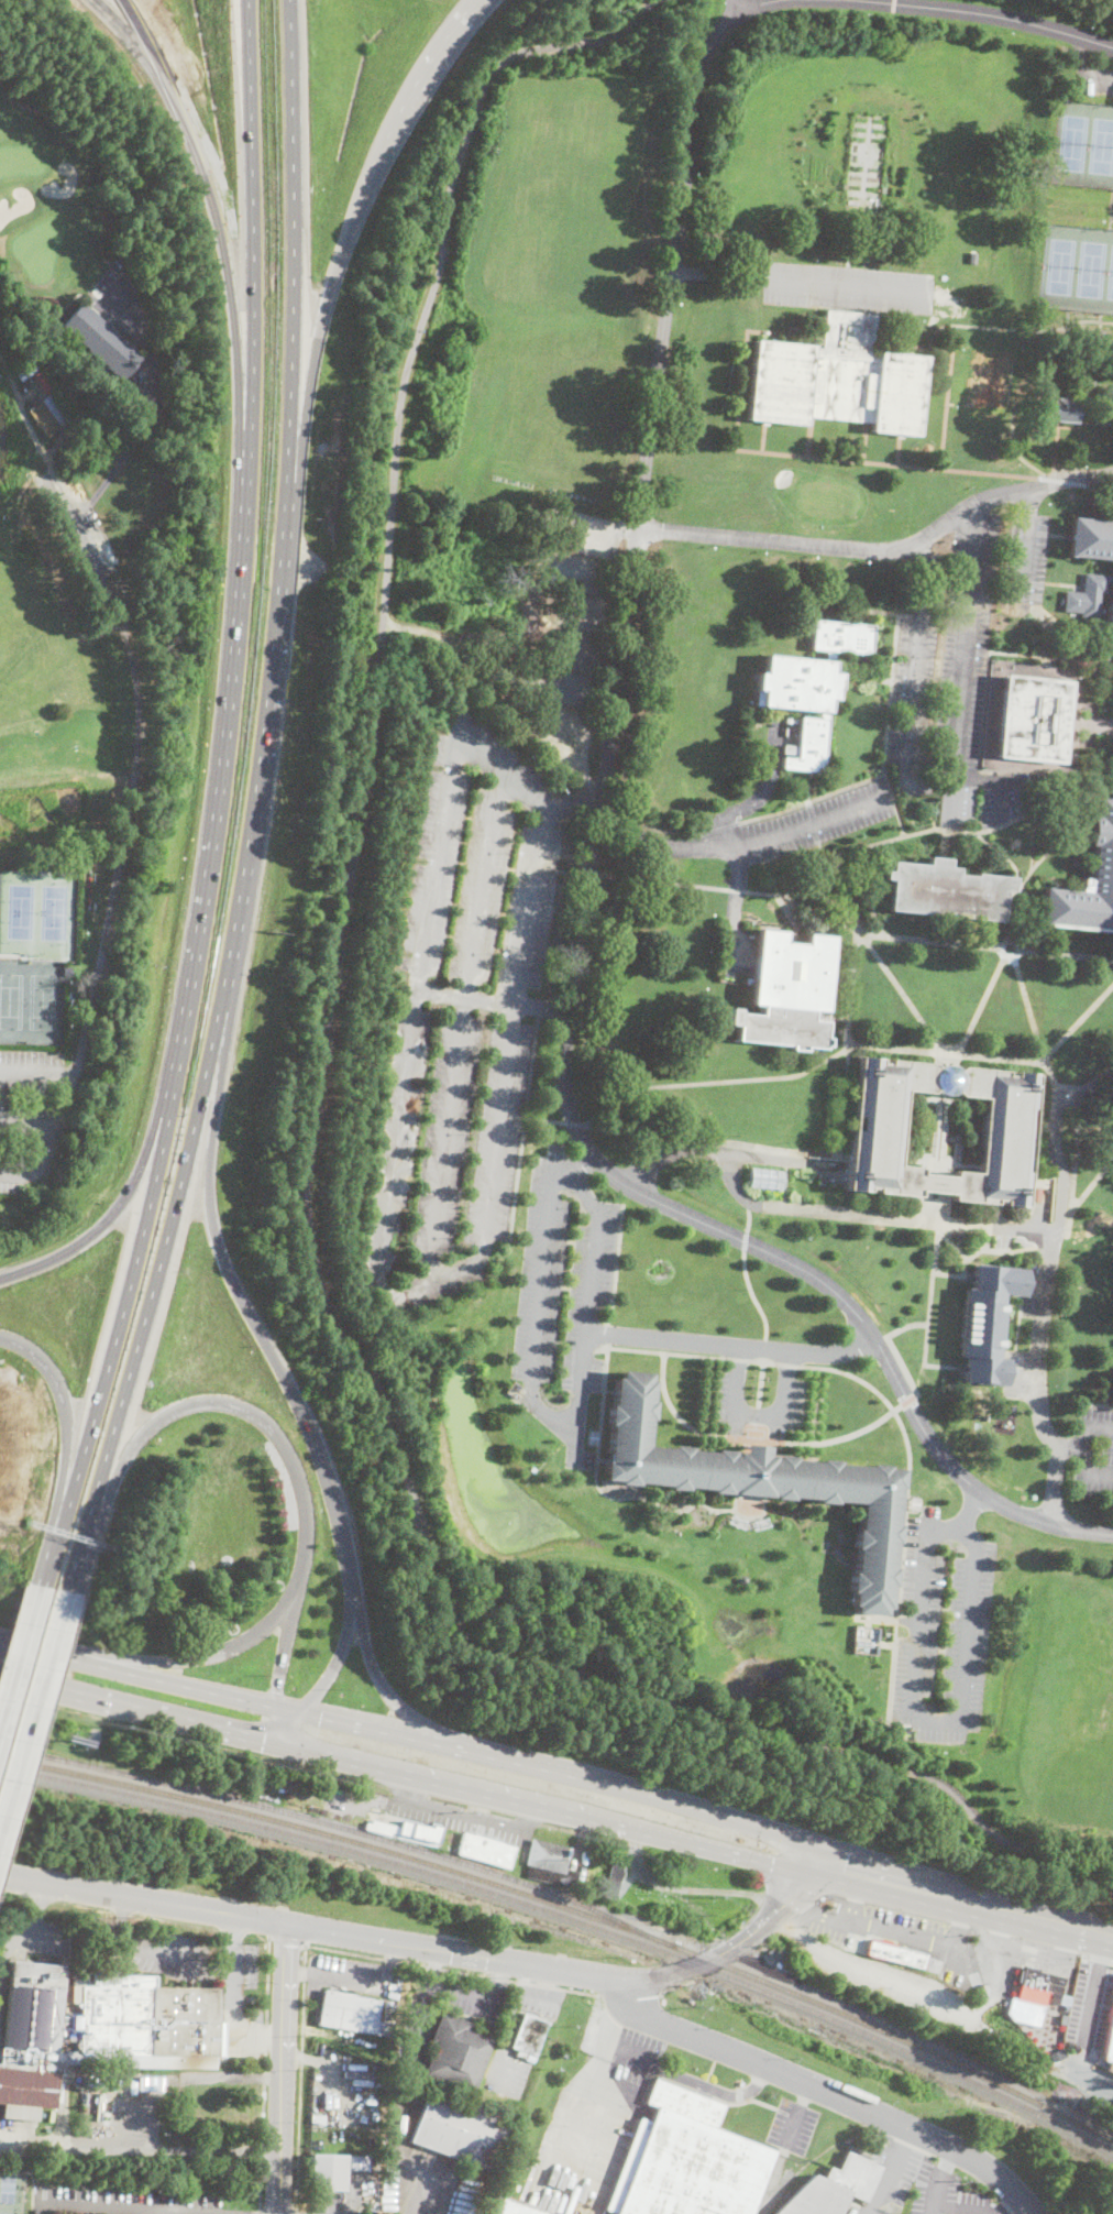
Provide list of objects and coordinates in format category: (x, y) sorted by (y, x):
road: (742, 8)
road: (988, 14)
building: (580, 20)
road: (1080, 69)
parking lot: (1094, 78)
park: (1070, 142)
park: (1100, 147)
park: (567, 196)
building: (871, 213)
building: (972, 256)
road: (339, 260)
road: (227, 265)
park: (1057, 265)
park: (1091, 268)
park: (1109, 280)
road: (800, 283)
parking lot: (846, 286)
building: (102, 340)
building: (29, 372)
building: (988, 377)
building: (836, 379)
building: (48, 408)
building: (1057, 409)
road: (146, 410)
building: (1109, 421)
road: (886, 462)
road: (1061, 480)
road: (643, 484)
road: (1100, 490)
building: (1092, 539)
road: (1026, 547)
parking lot: (1024, 562)
building: (1087, 595)
building: (1110, 624)
road: (596, 637)
road: (962, 662)
parking lot: (949, 683)
building: (809, 686)
road: (498, 697)
building: (1033, 719)
road: (910, 728)
parking lot: (770, 771)
road: (142, 776)
road: (758, 793)
road: (218, 801)
road: (445, 802)
road: (256, 805)
parking lot: (815, 821)
road: (742, 842)
building: (1102, 866)
road: (586, 873)
road: (827, 881)
road: (734, 888)
building: (946, 890)
road: (732, 913)
road: (934, 940)
road: (855, 951)
road: (1067, 954)
road: (1009, 955)
park: (334, 969)
building: (67, 971)
building: (791, 972)
road: (1021, 983)
road: (491, 999)
parking lot: (464, 1021)
road: (458, 1023)
building: (779, 1027)
road: (1051, 1055)
road: (41, 1074)
building: (946, 1078)
road: (714, 1081)
road: (316, 1118)
road: (544, 1119)
road: (33, 1121)
road: (574, 1124)
building: (874, 1131)
road: (1077, 1147)
road: (767, 1157)
road: (577, 1163)
road: (603, 1165)
building: (765, 1176)
road: (488, 1209)
road: (820, 1209)
road: (111, 1217)
road: (749, 1219)
road: (743, 1240)
road: (954, 1245)
road: (936, 1247)
road: (540, 1263)
parking lot: (565, 1294)
road: (752, 1295)
road: (1043, 1312)
building: (984, 1322)
road: (730, 1345)
road: (892, 1345)
road: (752, 1360)
parking lot: (1018, 1372)
road: (921, 1373)
road: (290, 1389)
parking lot: (730, 1401)
road: (760, 1415)
road: (1087, 1426)
road: (571, 1440)
road: (65, 1446)
road: (1070, 1448)
parking lot: (1093, 1451)
road: (291, 1461)
road: (1086, 1471)
building: (757, 1482)
building: (742, 1579)
parking lot: (943, 1623)
building: (864, 1638)
road: (341, 1654)
road: (203, 1655)
road: (21, 1659)
road: (148, 1679)
traffic signals: (277, 1692)
road: (133, 1711)
road: (35, 1716)
traffic signals: (320, 1720)
road: (945, 1721)
road: (282, 1728)
traffic signals: (264, 1741)
road: (561, 1774)
road: (539, 1806)
railway: (342, 1826)
building: (409, 1829)
building: (486, 1849)
building: (550, 1863)
traffic signals: (772, 1866)
traffic signals: (845, 1872)
building: (614, 1879)
traffic signals: (801, 1888)
road: (143, 1897)
road: (855, 1899)
road: (962, 1899)
railway: (570, 1906)
railway: (571, 1917)
road: (29, 1926)
road: (895, 1928)
parking lot: (903, 1938)
road: (287, 1940)
road: (140, 1943)
building: (896, 1954)
parking lot: (1047, 1955)
road: (1095, 1958)
parking lot: (995, 1962)
road: (436, 1965)
road: (453, 1969)
road: (570, 1971)
road: (498, 1980)
road: (359, 1981)
road: (921, 1982)
road: (674, 1985)
road: (1094, 1990)
road: (427, 1991)
road: (540, 1993)
building: (1034, 1994)
road: (232, 1995)
road: (631, 1995)
parking lot: (1090, 2003)
building: (352, 2013)
road: (616, 2017)
road: (508, 2024)
building: (98, 2031)
building: (527, 2035)
building: (69, 2039)
building: (1109, 2046)
building: (456, 2052)
building: (1058, 2053)
building: (529, 2058)
road: (284, 2069)
road: (264, 2071)
road: (190, 2074)
road: (299, 2075)
road: (691, 2080)
building: (156, 2082)
road: (830, 2092)
road: (584, 2104)
road: (797, 2114)
parking lot: (792, 2125)
building: (459, 2129)
road: (88, 2148)
road: (229, 2148)
building: (686, 2160)
building: (357, 2161)
building: (371, 2161)
road: (890, 2171)
building: (328, 2172)
road: (936, 2179)
park: (126, 2185)
building: (834, 2188)
park: (11, 2190)
building: (509, 2206)
road: (101, 2208)
road: (980, 2210)
road: (260, 2211)
road: (295, 2211)
road: (153, 2213)

